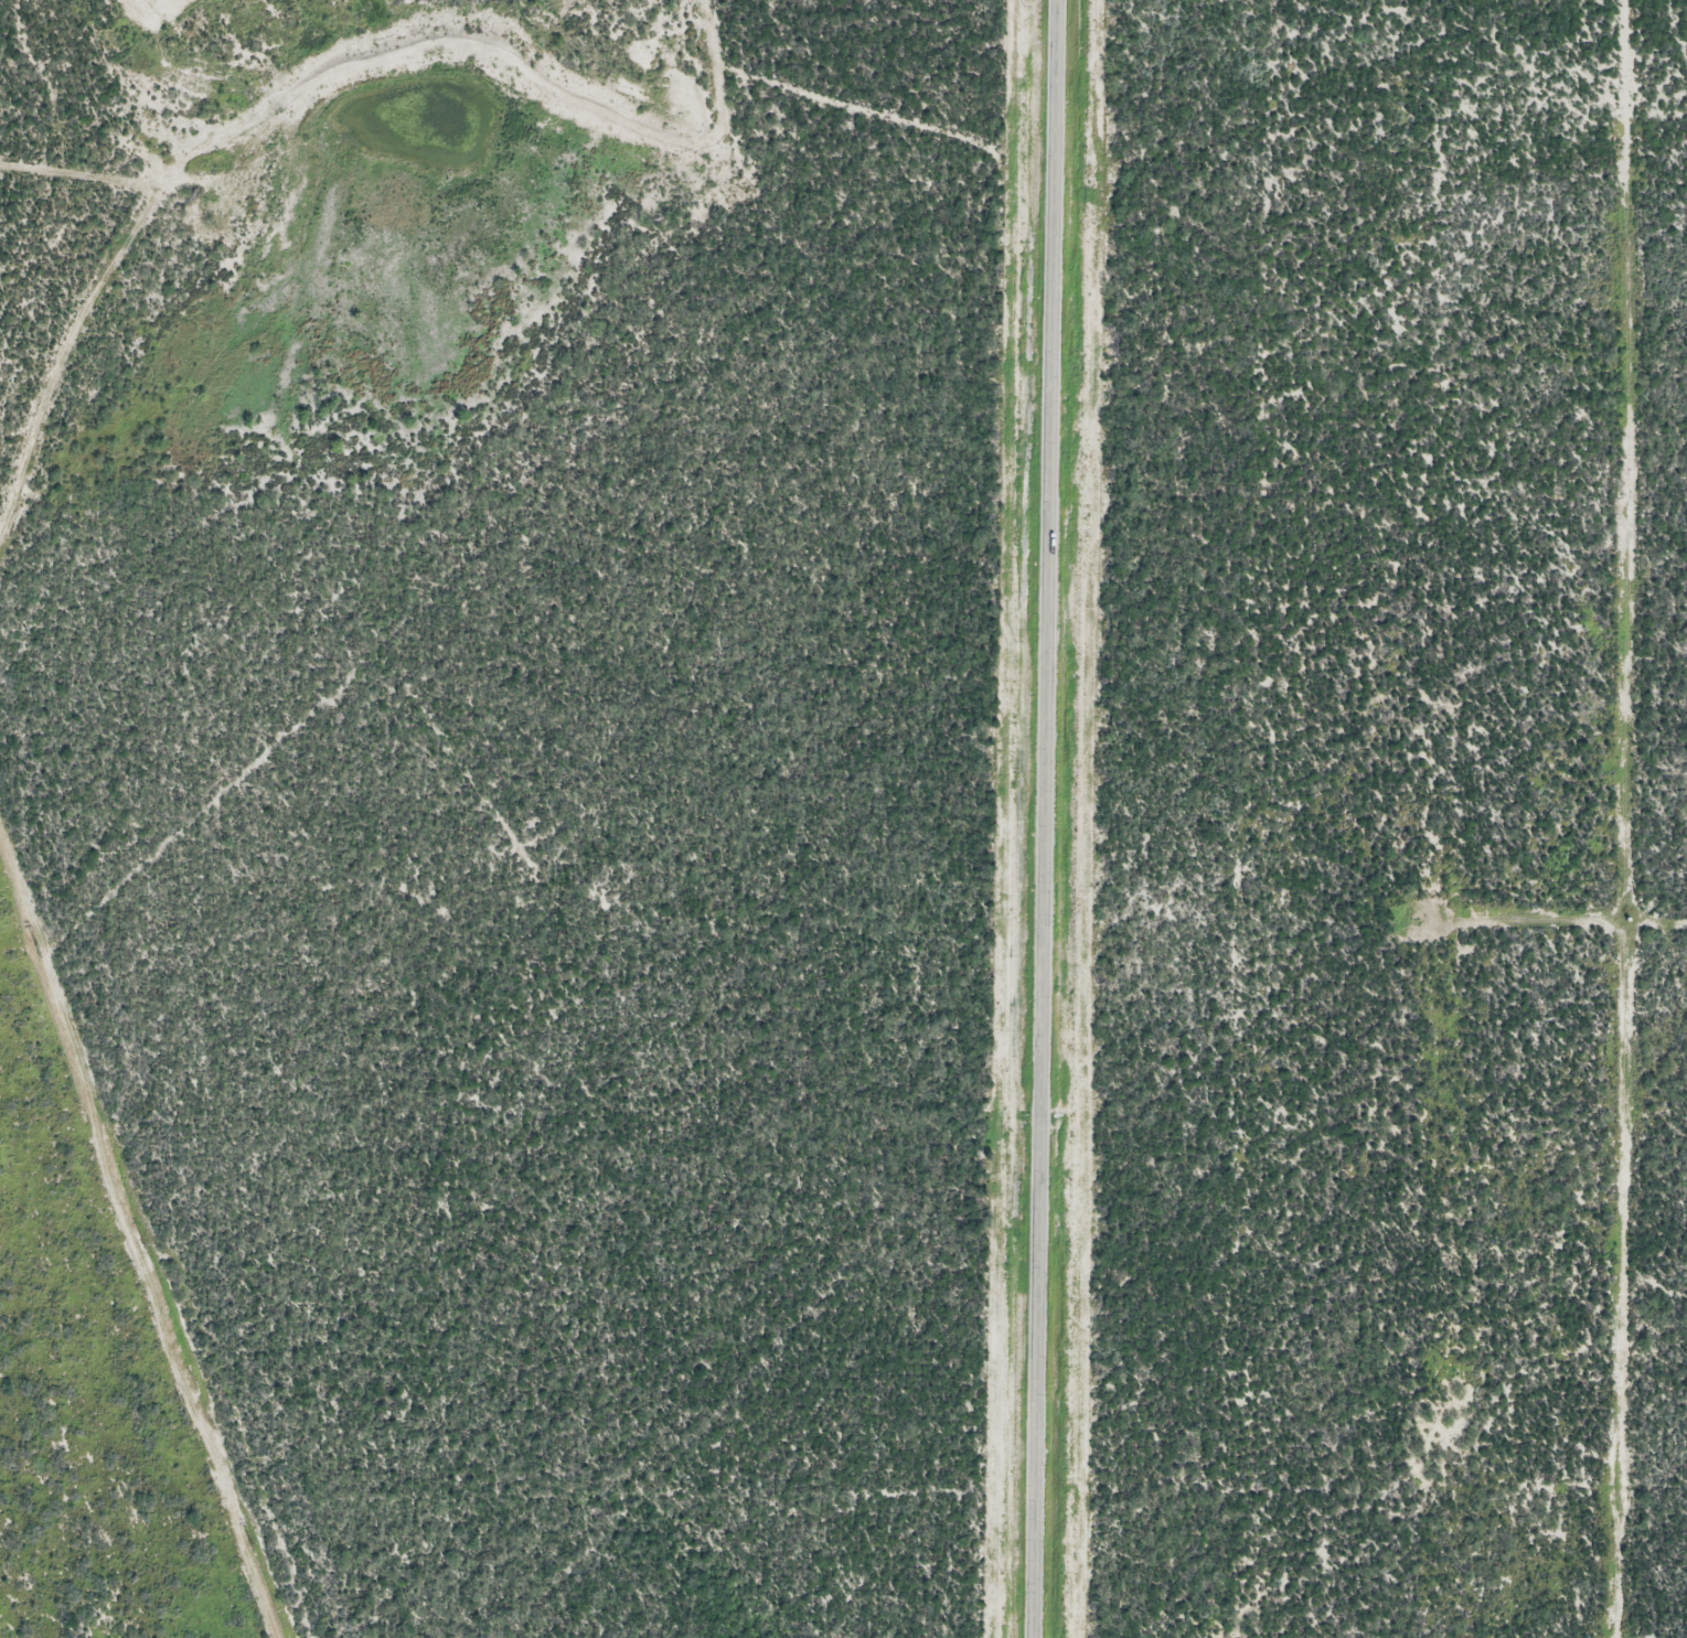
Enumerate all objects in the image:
road: (1044, 818)
power tower: (38, 948)
power tower: (146, 1243)
power tower: (252, 1541)

